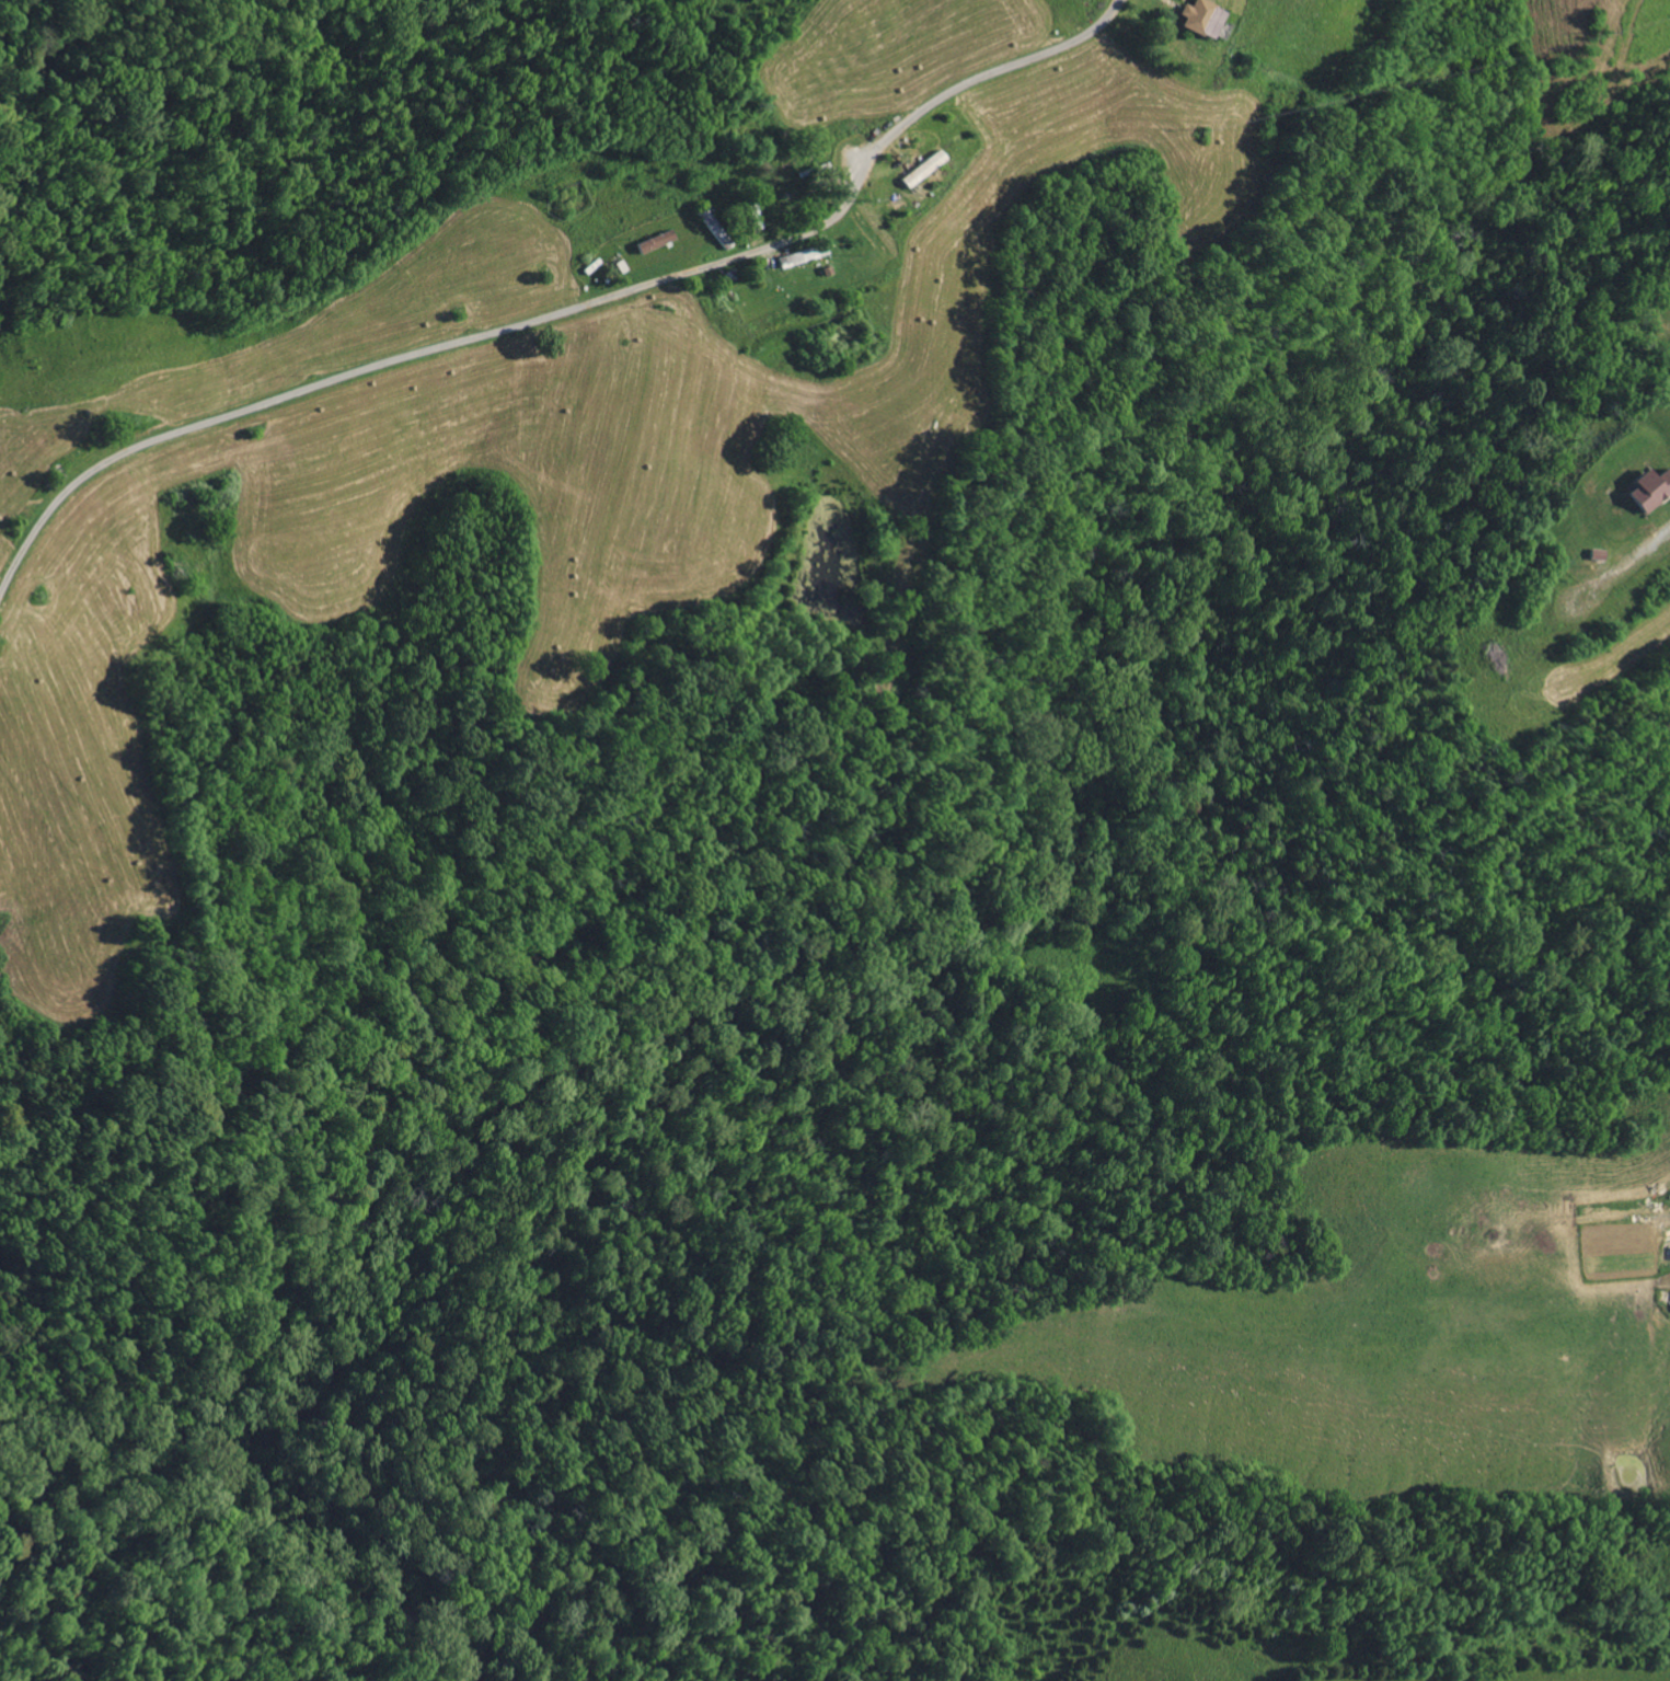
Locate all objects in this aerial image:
building: (1194, 15)
road: (951, 80)
building: (914, 166)
building: (1647, 486)

